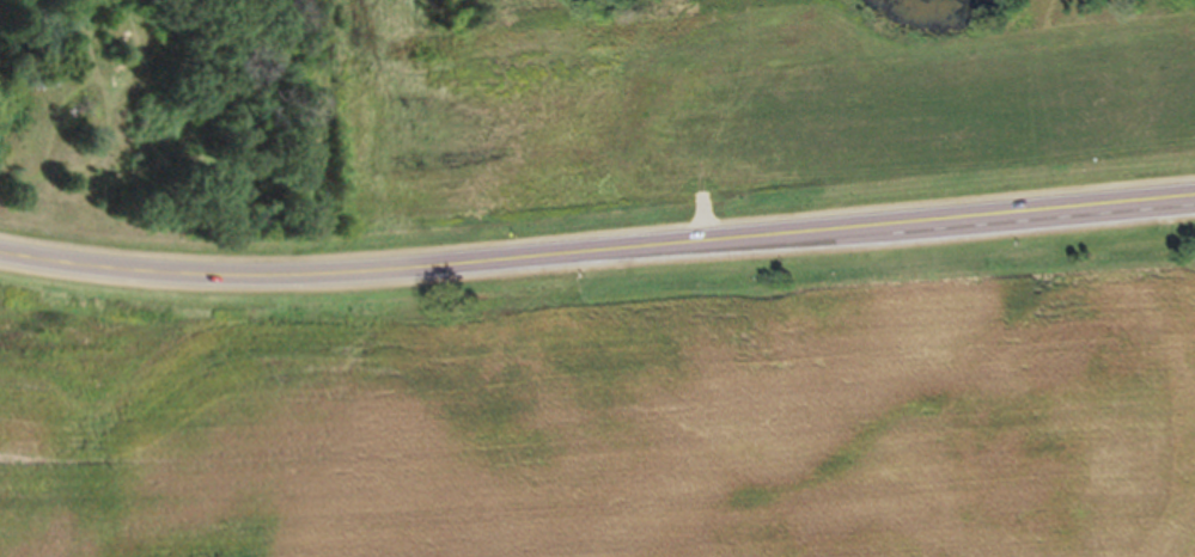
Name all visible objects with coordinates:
road: (597, 259)

